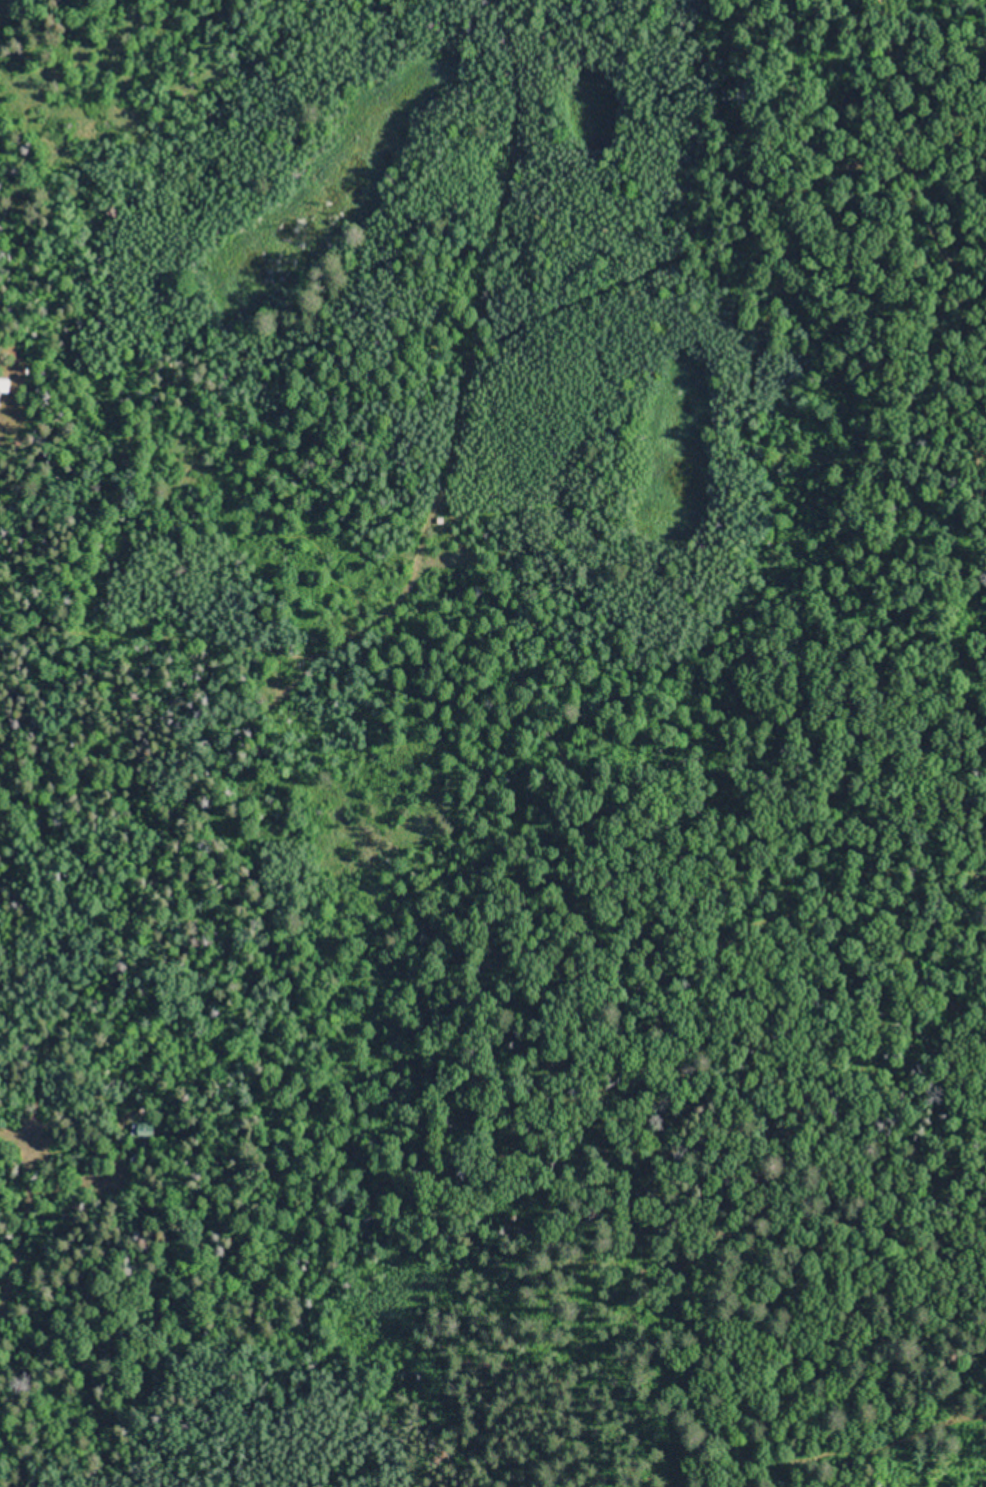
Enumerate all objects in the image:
road: (909, 274)
building: (8, 391)
road: (196, 703)
building: (147, 1128)
road: (20, 1354)

